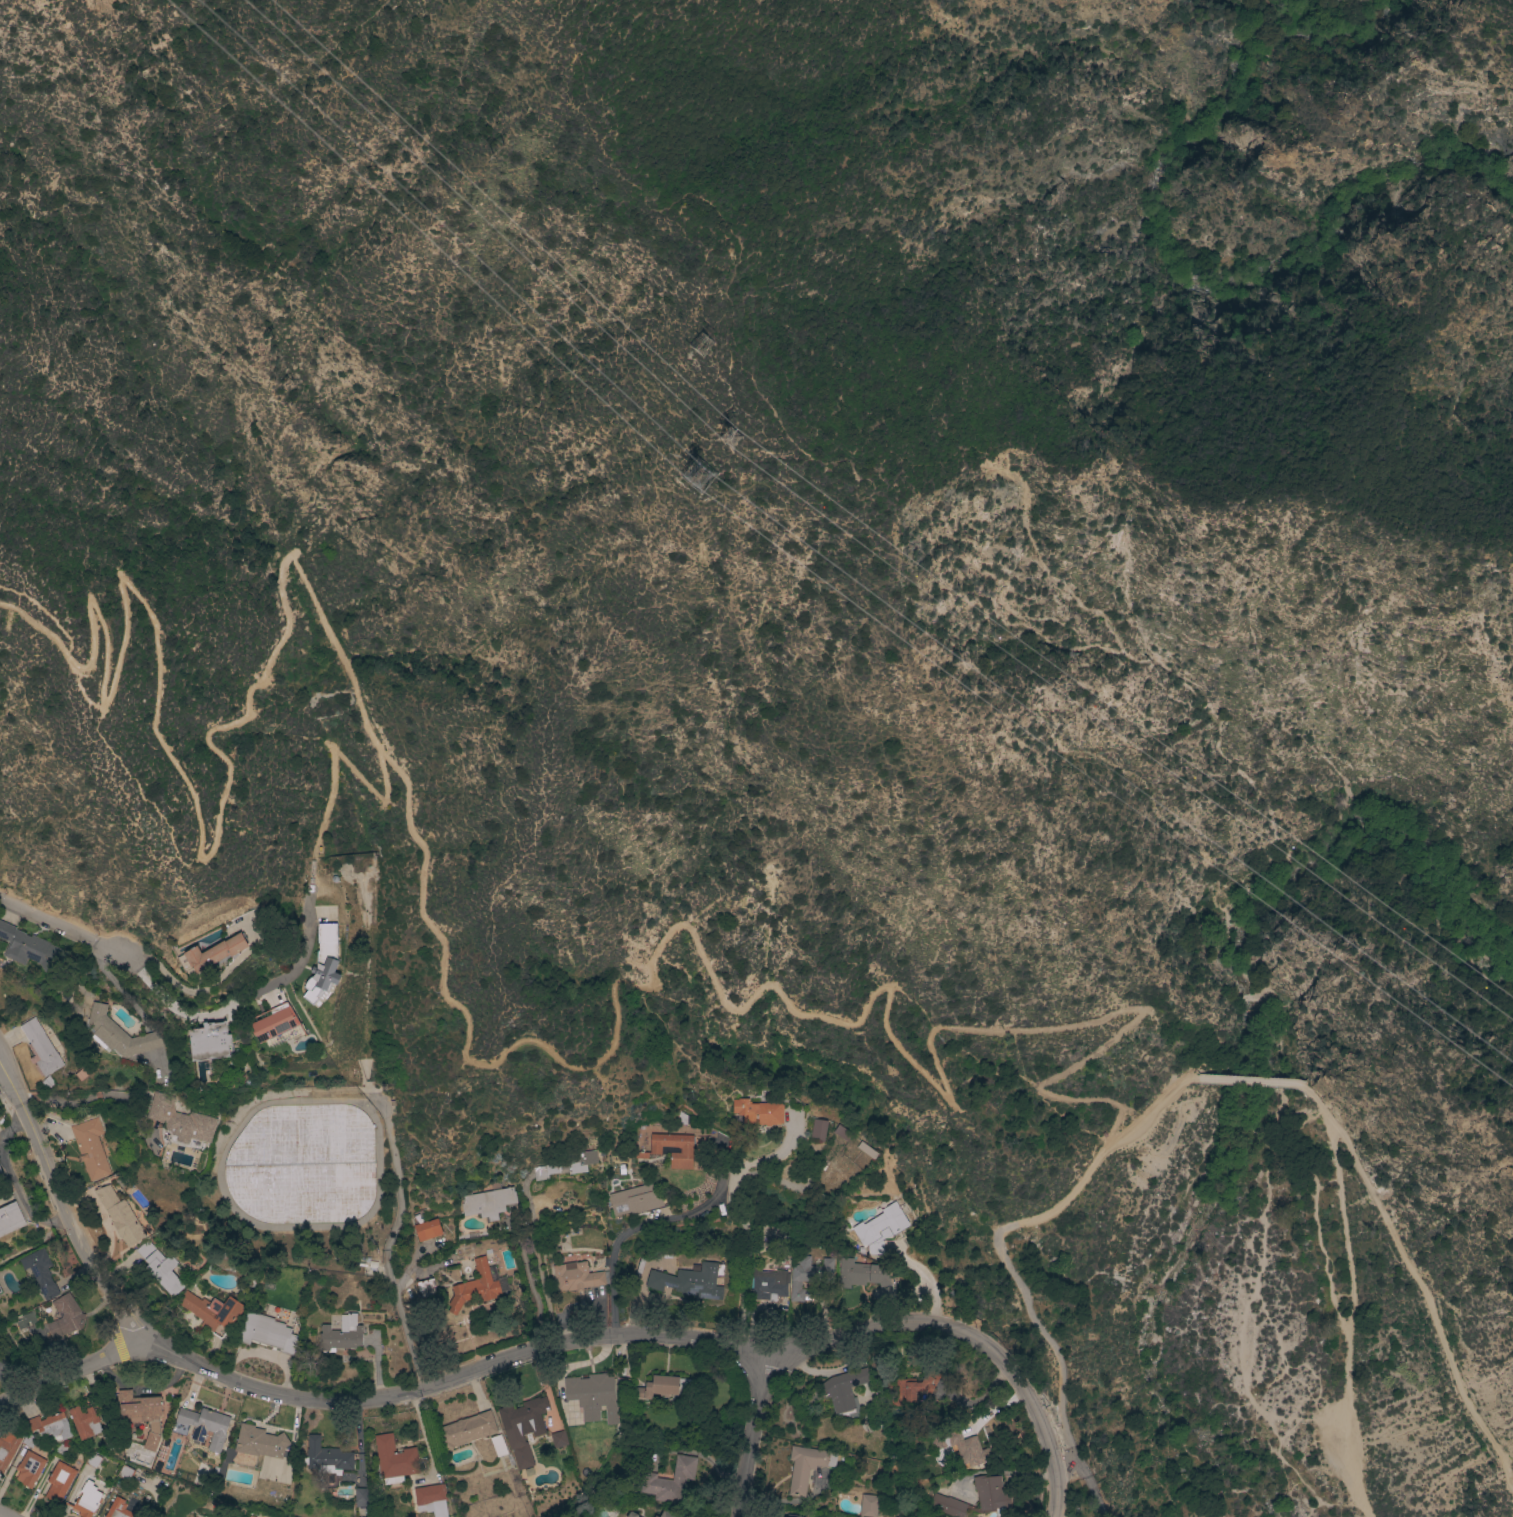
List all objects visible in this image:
road: (561, 13)
power tower: (493, 156)
road: (565, 162)
road: (728, 310)
power tower: (702, 345)
power tower: (734, 441)
power tower: (698, 474)
road: (44, 613)
road: (542, 742)
road: (329, 755)
road: (60, 928)
road: (434, 932)
building: (28, 947)
building: (215, 952)
building: (324, 963)
road: (1247, 964)
road: (241, 1002)
building: (278, 1025)
building: (120, 1033)
building: (210, 1041)
building: (41, 1047)
road: (1246, 1081)
road: (1311, 1095)
building: (759, 1112)
building: (181, 1120)
building: (818, 1130)
building: (843, 1133)
building: (91, 1148)
building: (686, 1150)
building: (868, 1150)
building: (580, 1161)
building: (303, 1164)
building: (545, 1170)
building: (1, 1175)
road: (1326, 1185)
building: (636, 1199)
building: (488, 1202)
road: (58, 1203)
building: (120, 1215)
road: (742, 1217)
building: (10, 1218)
road: (649, 1225)
building: (881, 1228)
building: (428, 1229)
building: (771, 1235)
road: (1001, 1240)
building: (160, 1268)
building: (40, 1272)
building: (861, 1274)
building: (576, 1277)
building: (809, 1277)
building: (703, 1279)
building: (657, 1280)
building: (768, 1283)
building: (475, 1287)
road: (532, 1287)
building: (425, 1288)
building: (0, 1290)
road: (1429, 1293)
road: (649, 1300)
building: (214, 1313)
road: (1349, 1315)
building: (65, 1316)
building: (26, 1320)
building: (268, 1333)
building: (341, 1334)
road: (969, 1334)
road: (10, 1381)
building: (657, 1386)
building: (843, 1387)
building: (919, 1388)
building: (592, 1394)
road: (367, 1395)
building: (138, 1404)
building: (83, 1418)
building: (51, 1425)
building: (204, 1425)
building: (466, 1428)
building: (513, 1433)
building: (558, 1438)
road: (752, 1439)
building: (151, 1440)
building: (259, 1441)
building: (959, 1445)
building: (7, 1446)
building: (326, 1453)
building: (393, 1456)
building: (805, 1465)
building: (29, 1467)
building: (61, 1475)
building: (671, 1481)
building: (990, 1491)
building: (360, 1496)
building: (431, 1497)
building: (87, 1498)
building: (947, 1504)
building: (867, 1505)
building: (122, 1507)
road: (4, 1514)
building: (631, 1514)
building: (665, 1514)
building: (361, 1516)
road: (1056, 1516)

